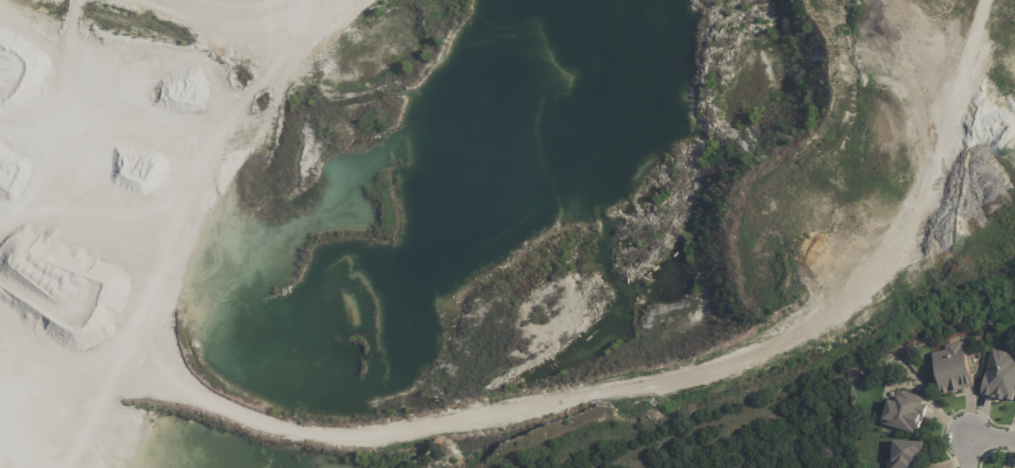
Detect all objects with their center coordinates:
road: (1008, 17)
road: (215, 171)
quarry: (461, 208)
quarry: (479, 220)
building: (980, 329)
road: (73, 365)
building: (955, 370)
road: (628, 372)
building: (1002, 377)
building: (906, 411)
road: (977, 438)
building: (909, 454)

